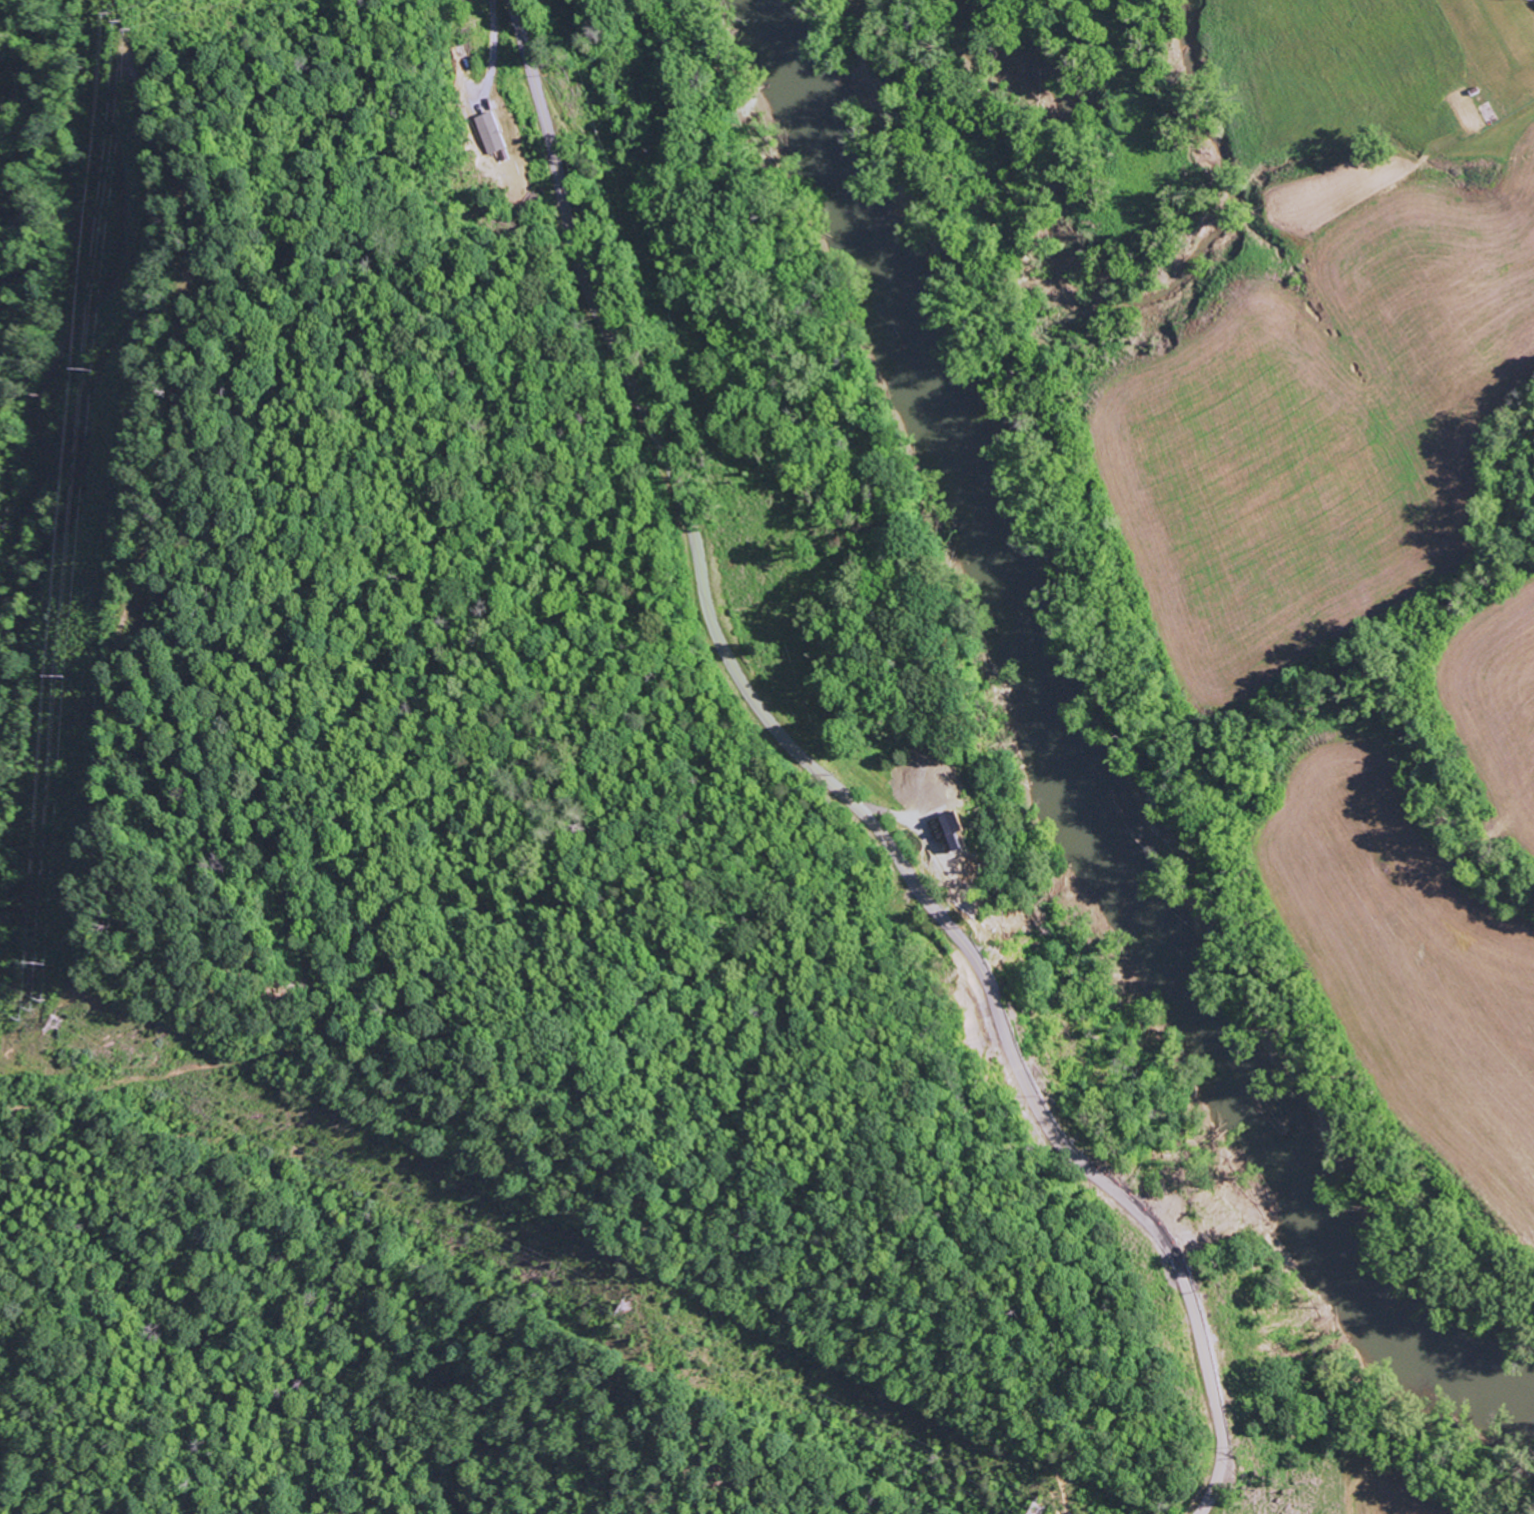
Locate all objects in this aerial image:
building: (489, 132)
river: (1076, 745)
road: (832, 783)

